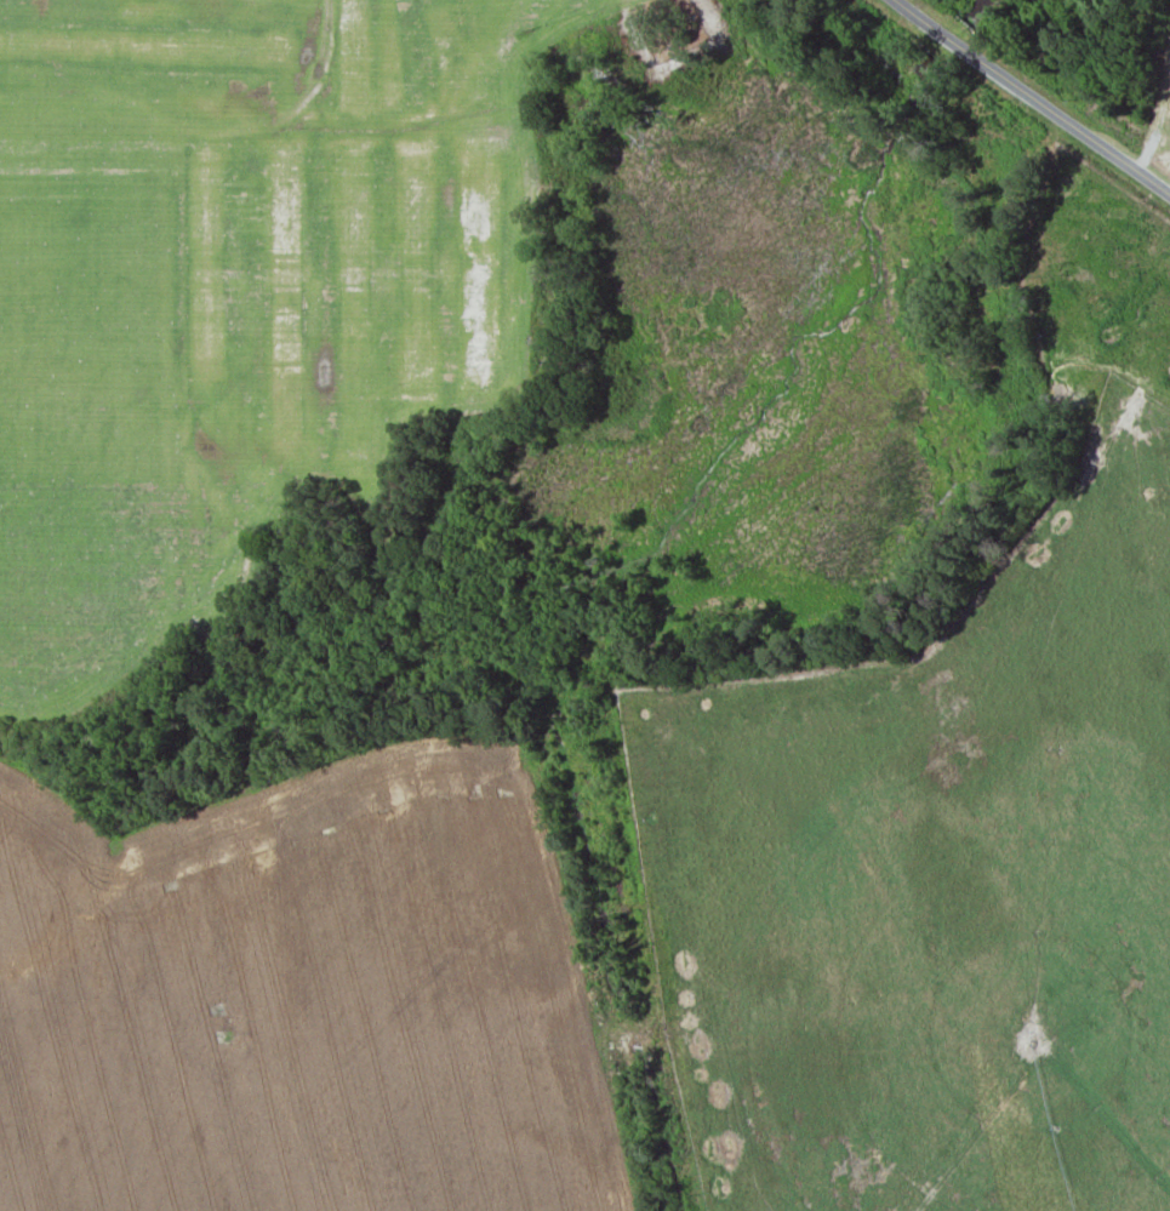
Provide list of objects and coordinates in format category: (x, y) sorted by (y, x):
road: (1032, 97)
road: (1162, 109)

